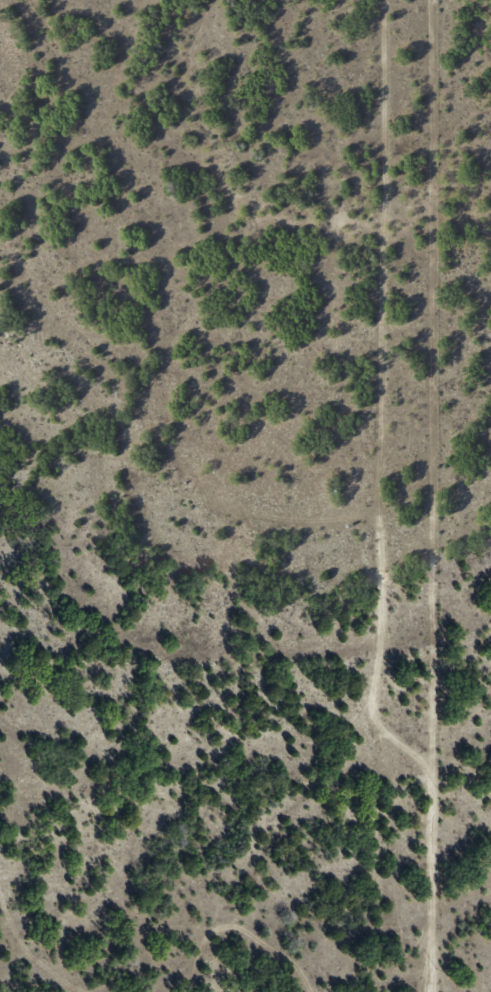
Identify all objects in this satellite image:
road: (386, 496)

